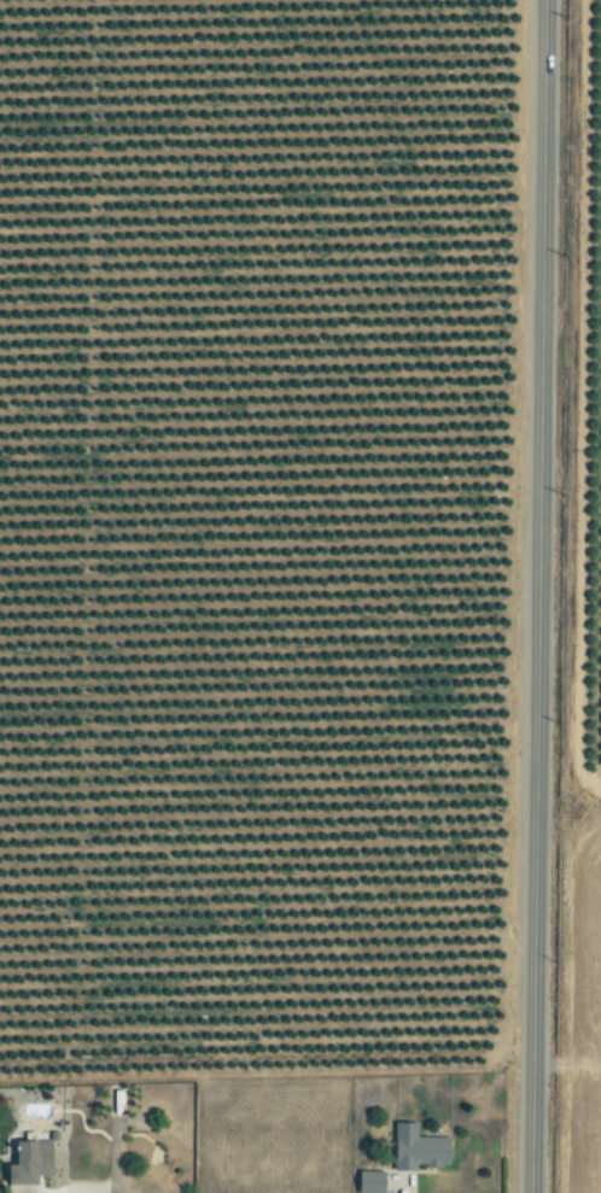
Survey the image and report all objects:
road: (538, 596)
building: (415, 1148)
road: (112, 1156)
building: (27, 1166)
building: (369, 1182)
road: (91, 1192)

